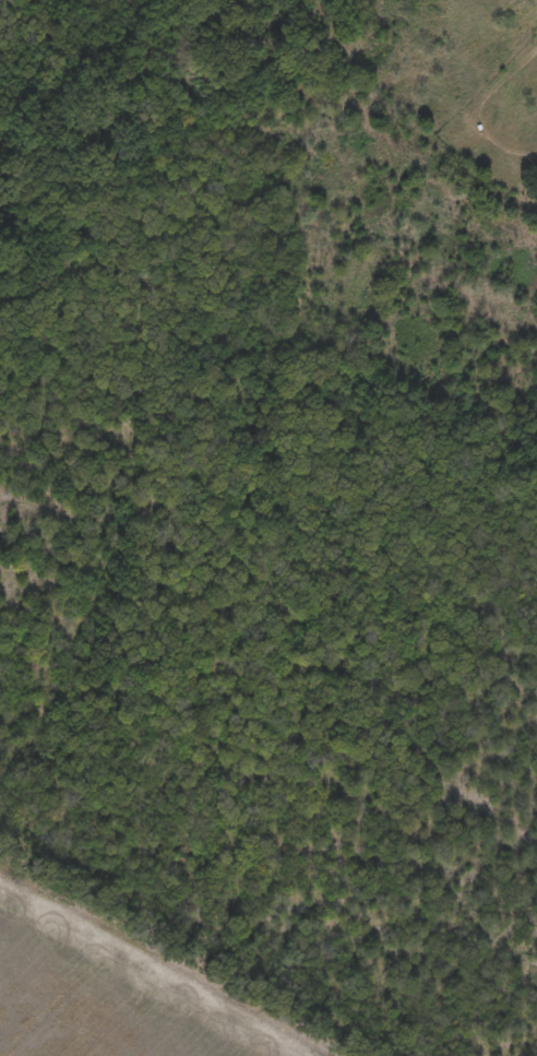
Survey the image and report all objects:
crop: (123, 986)

